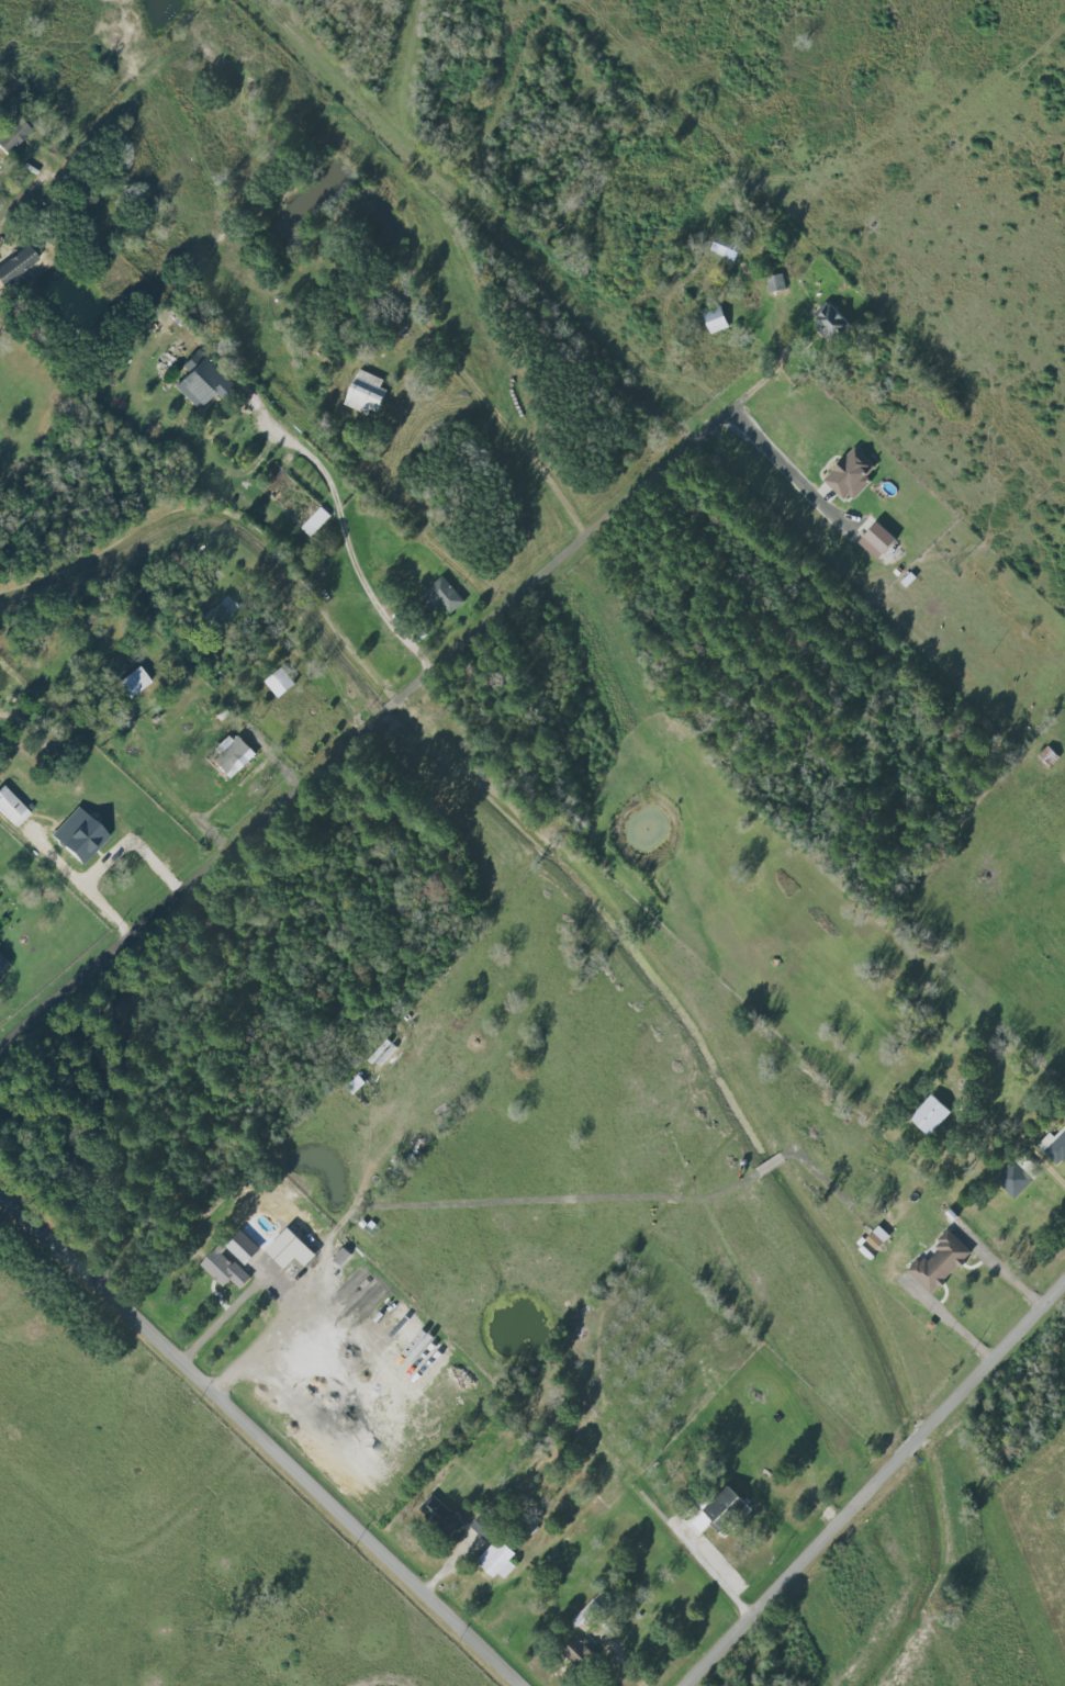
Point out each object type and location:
building: (14, 135)
road: (21, 198)
building: (724, 251)
building: (18, 265)
building: (776, 282)
building: (716, 319)
building: (831, 319)
building: (204, 381)
building: (368, 393)
road: (785, 463)
building: (851, 474)
building: (316, 521)
building: (879, 540)
road: (350, 543)
building: (444, 595)
building: (223, 611)
building: (135, 682)
building: (281, 683)
road: (380, 721)
building: (233, 755)
building: (1049, 756)
building: (12, 807)
building: (81, 834)
road: (79, 880)
building: (931, 1115)
building: (1054, 1147)
road: (1050, 1165)
building: (1014, 1179)
building: (878, 1237)
building: (245, 1247)
building: (281, 1252)
building: (942, 1262)
building: (225, 1268)
building: (365, 1286)
road: (280, 1291)
road: (949, 1317)
road: (260, 1432)
road: (875, 1484)
building: (718, 1511)
building: (440, 1515)
building: (484, 1527)
building: (500, 1559)
road: (717, 1574)
building: (590, 1615)
building: (579, 1652)

